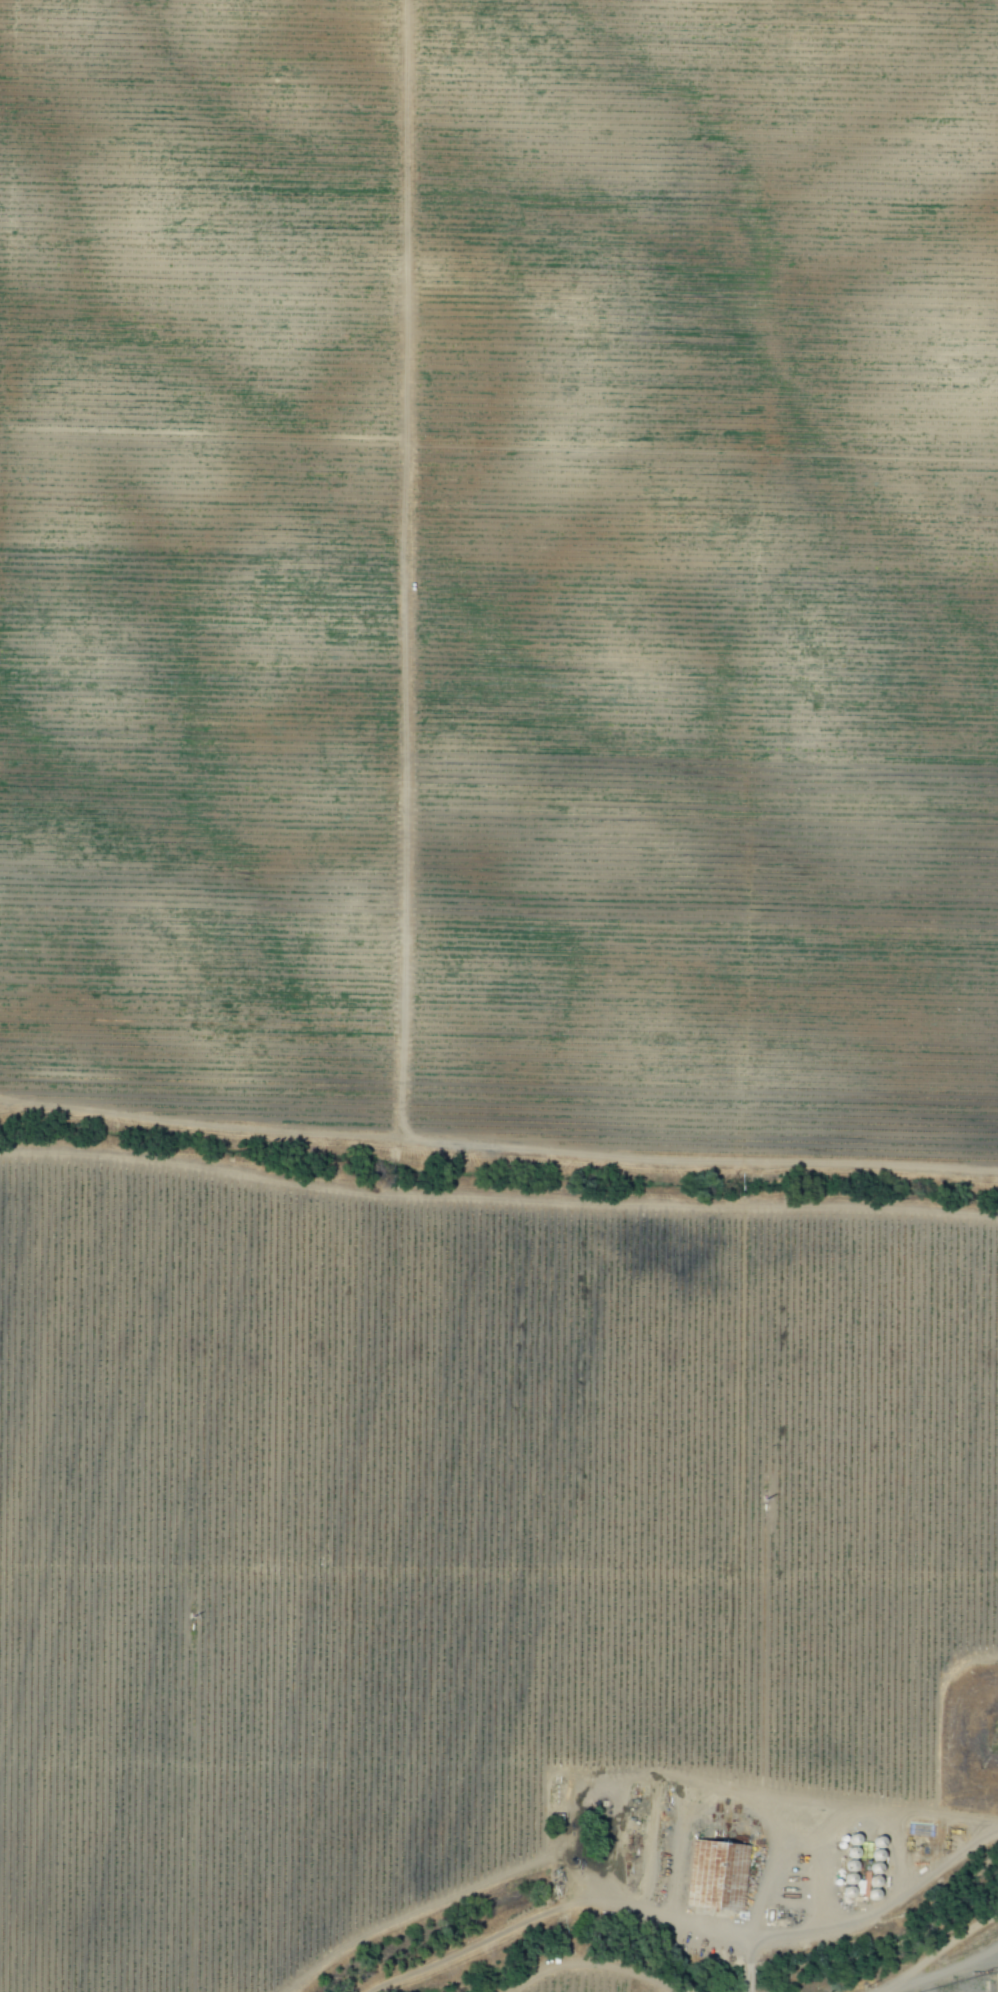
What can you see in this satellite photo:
road: (498, 1152)
road: (436, 1769)
road: (934, 1810)
road: (574, 1899)
road: (879, 1907)
road: (951, 1946)
road: (941, 1975)

